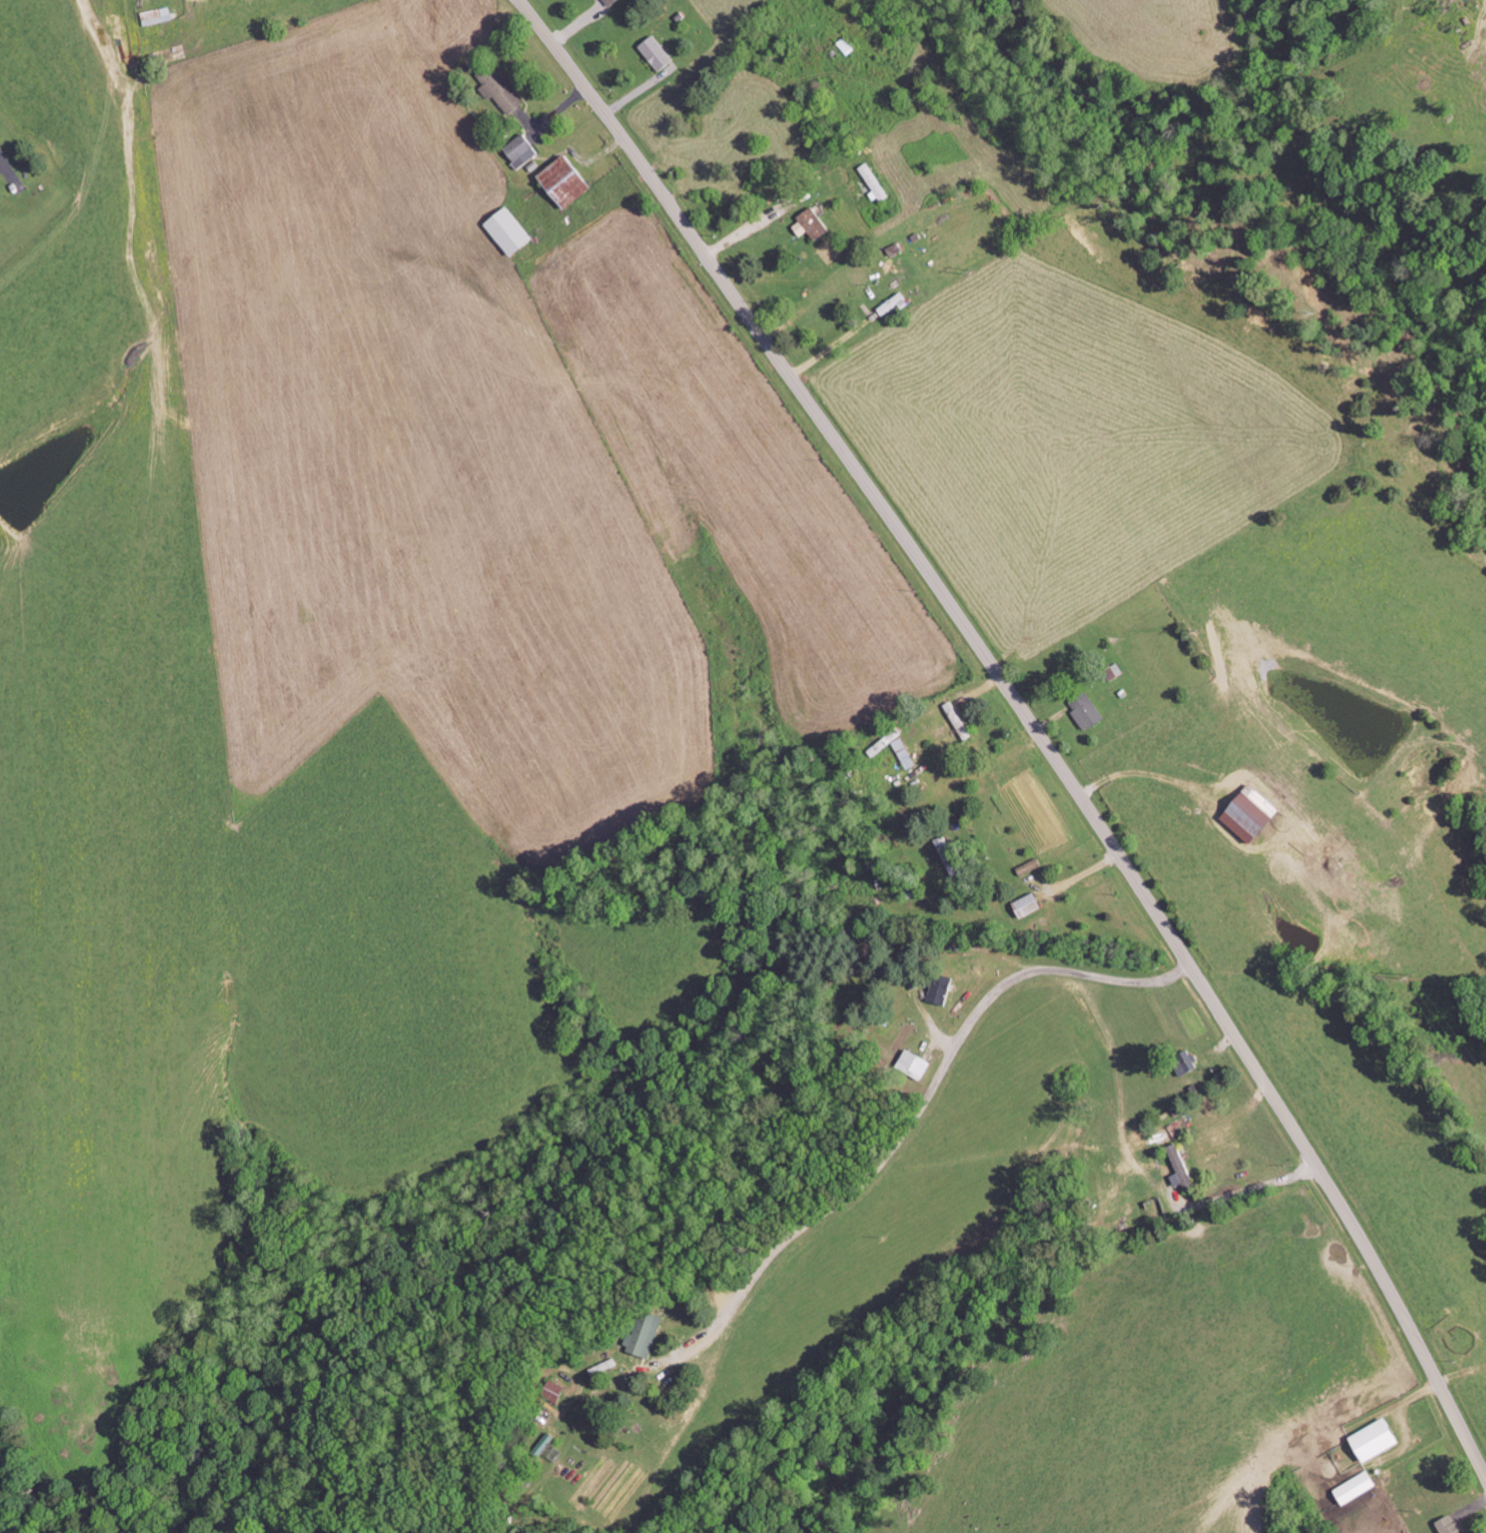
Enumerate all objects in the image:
building: (608, 2)
road: (628, 15)
building: (656, 52)
building: (505, 91)
building: (521, 150)
building: (565, 180)
building: (872, 181)
building: (811, 225)
building: (508, 231)
building: (892, 304)
building: (1085, 711)
road: (1028, 721)
road: (922, 778)
building: (1252, 814)
building: (1028, 905)
road: (933, 1090)
building: (1181, 1168)
building: (644, 1333)
building: (1376, 1439)
building: (1356, 1487)
building: (1452, 1525)

